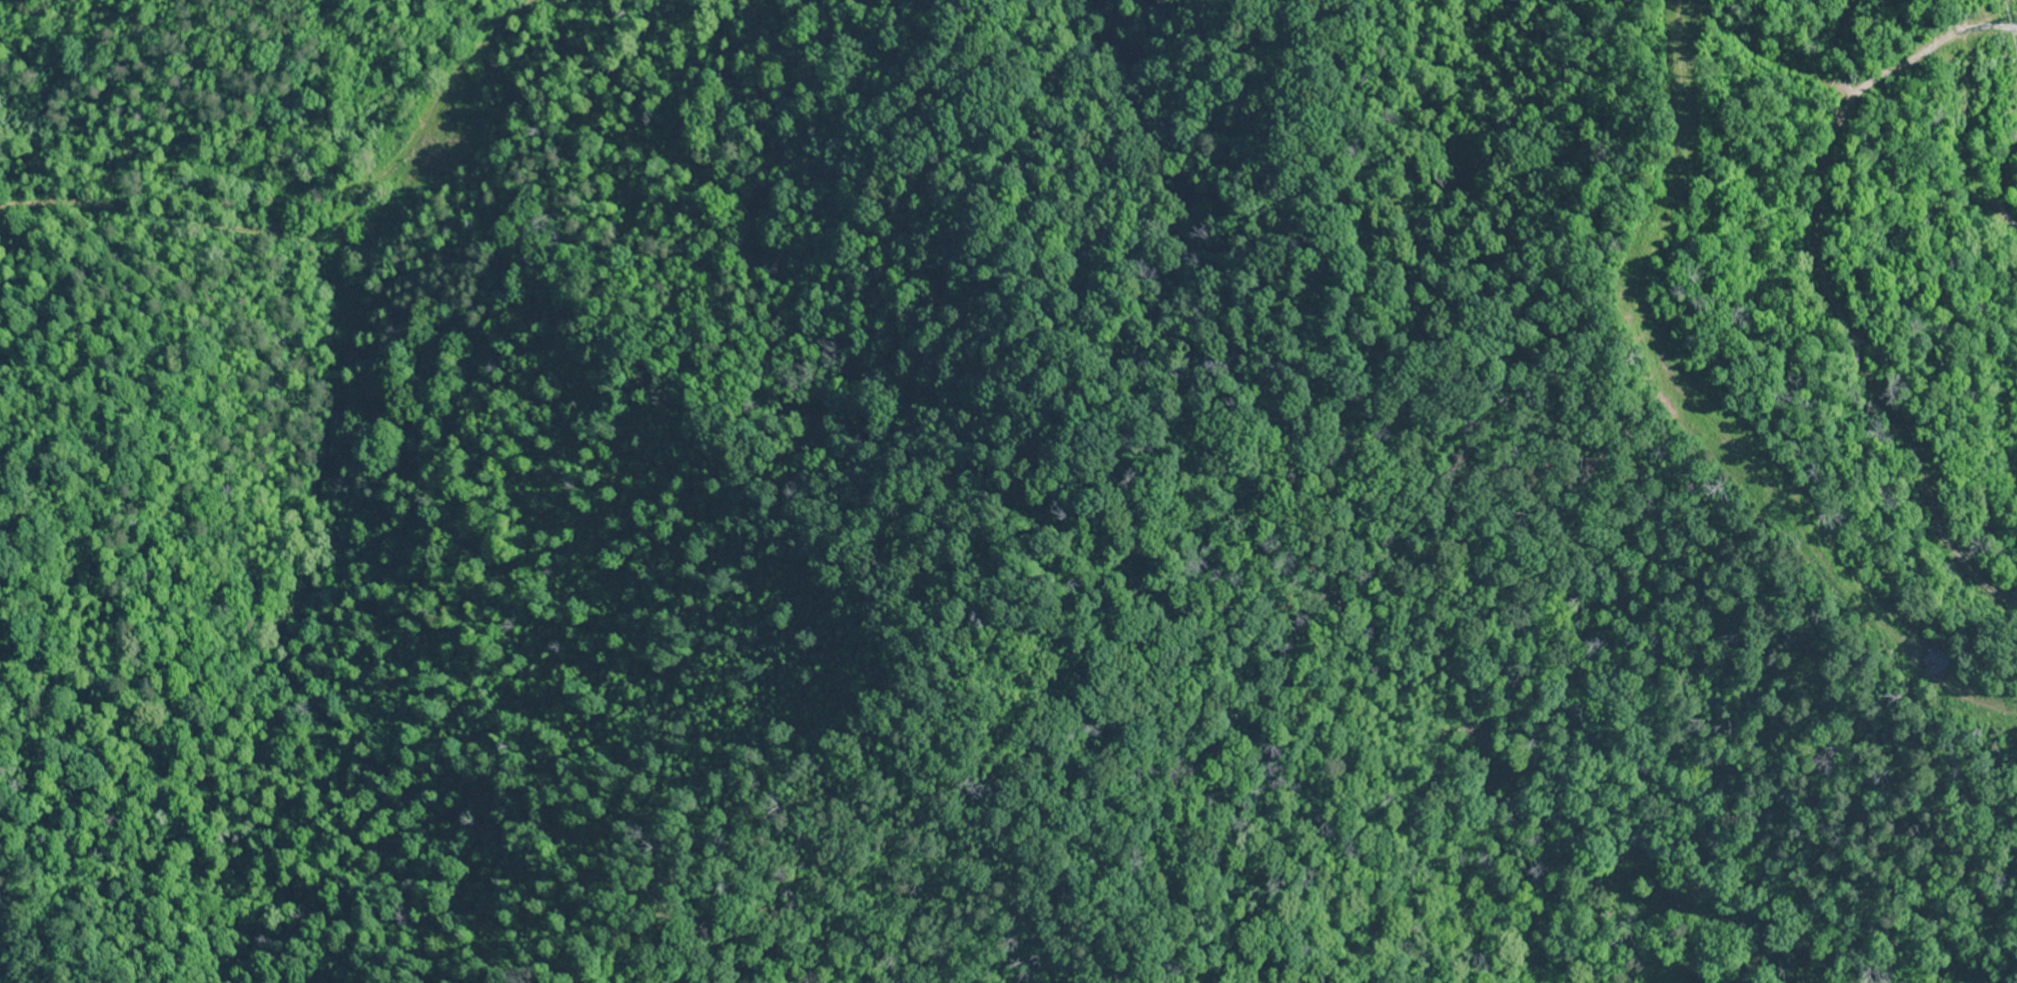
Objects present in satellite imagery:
building: (1929, 661)

